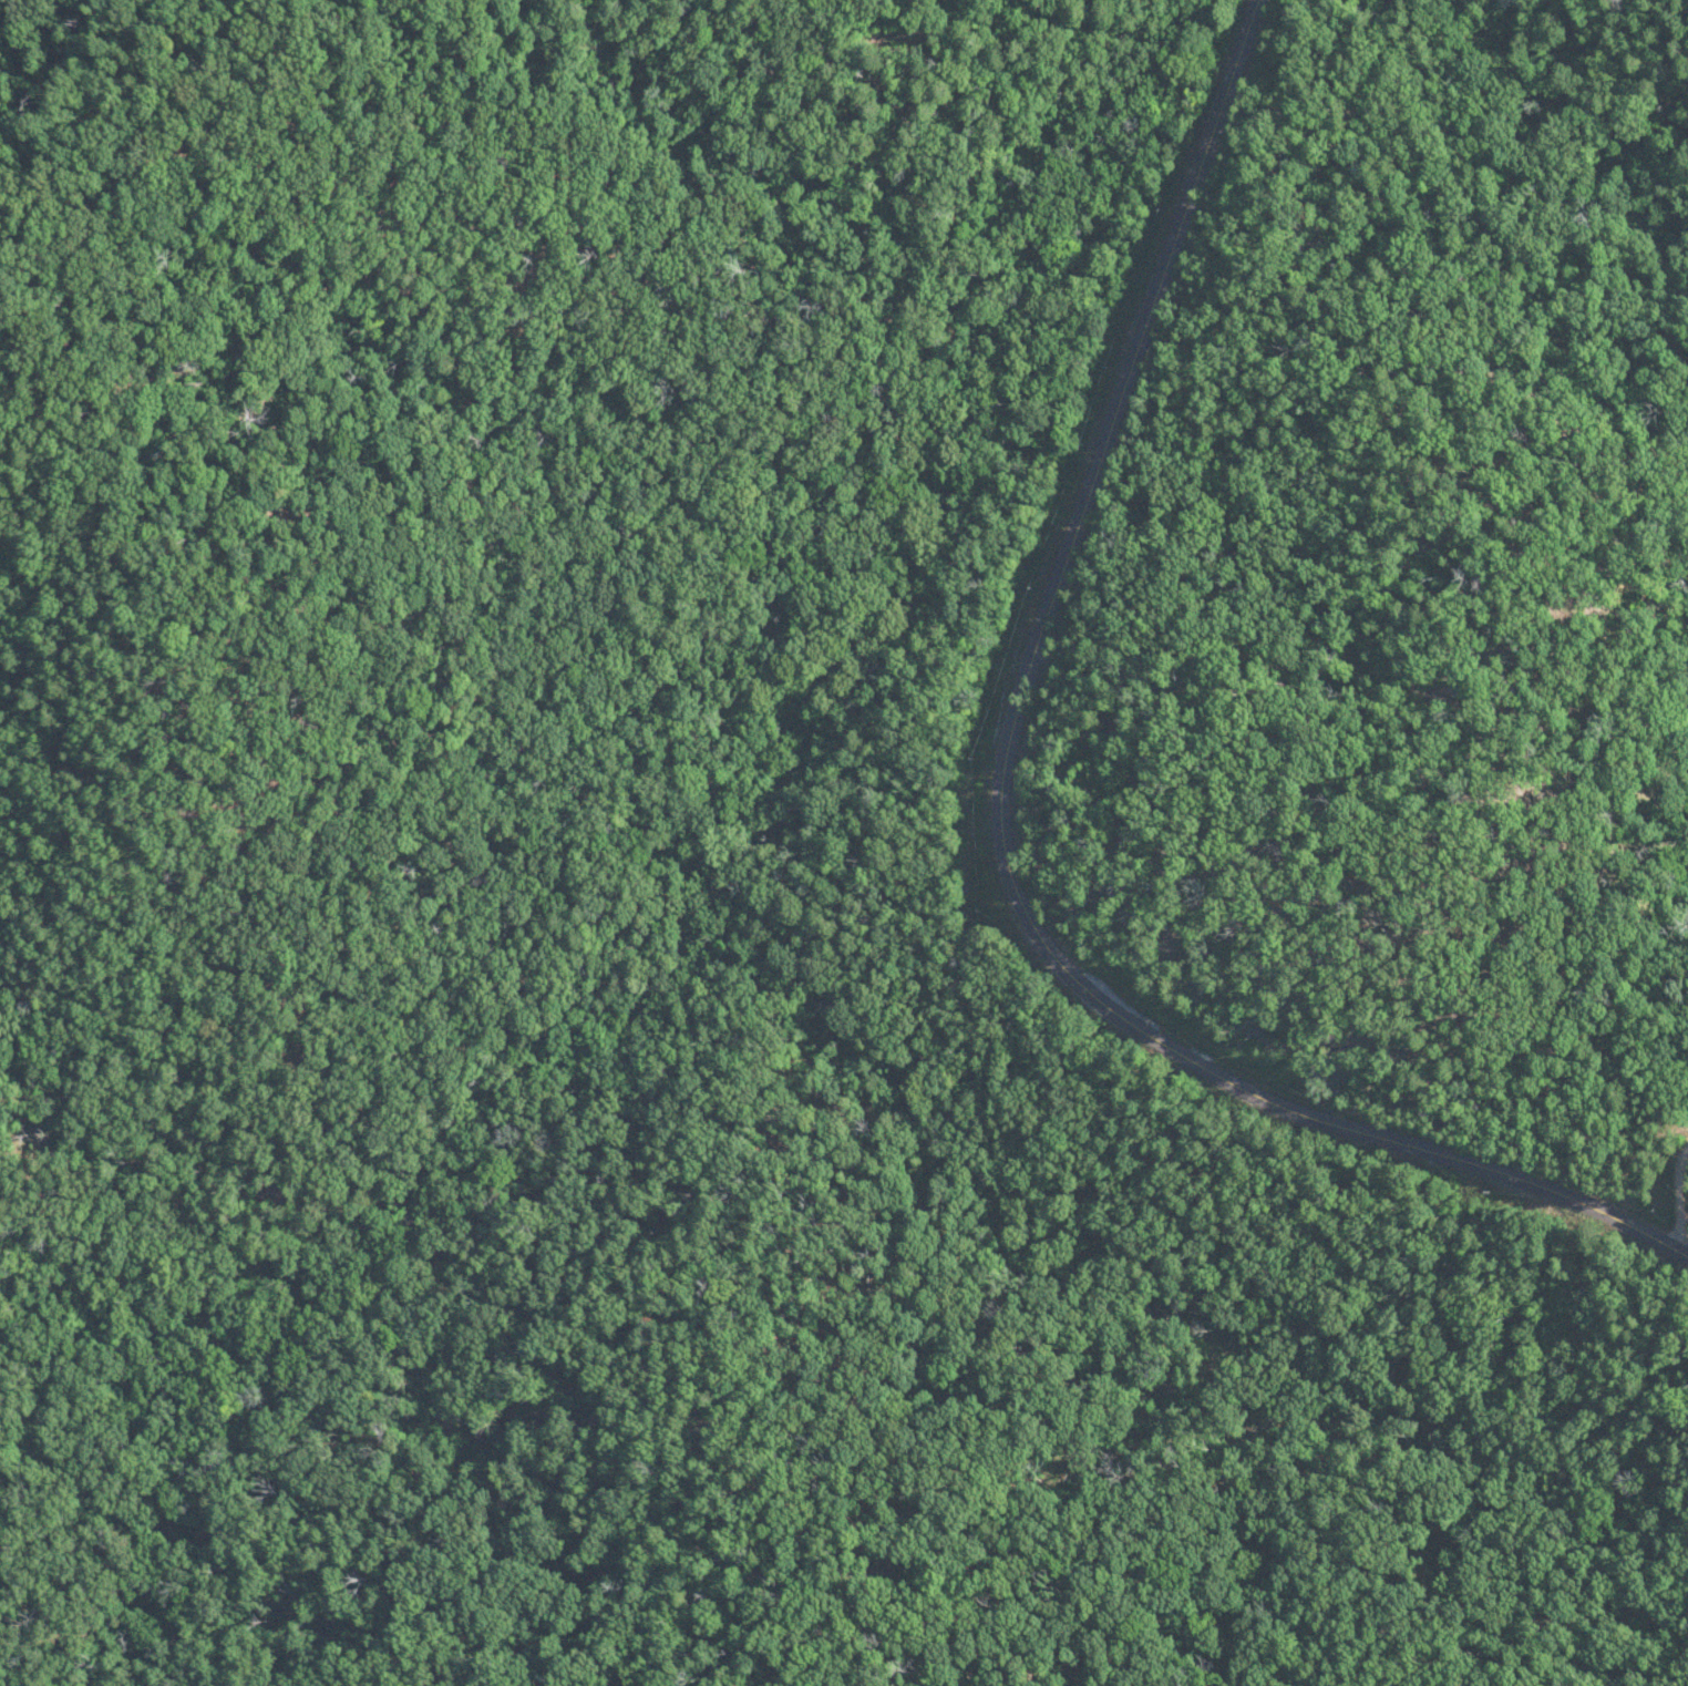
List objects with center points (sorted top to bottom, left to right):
road: (187, 144)
road: (1509, 609)
road: (1006, 813)
park: (844, 843)
road: (1680, 1196)

